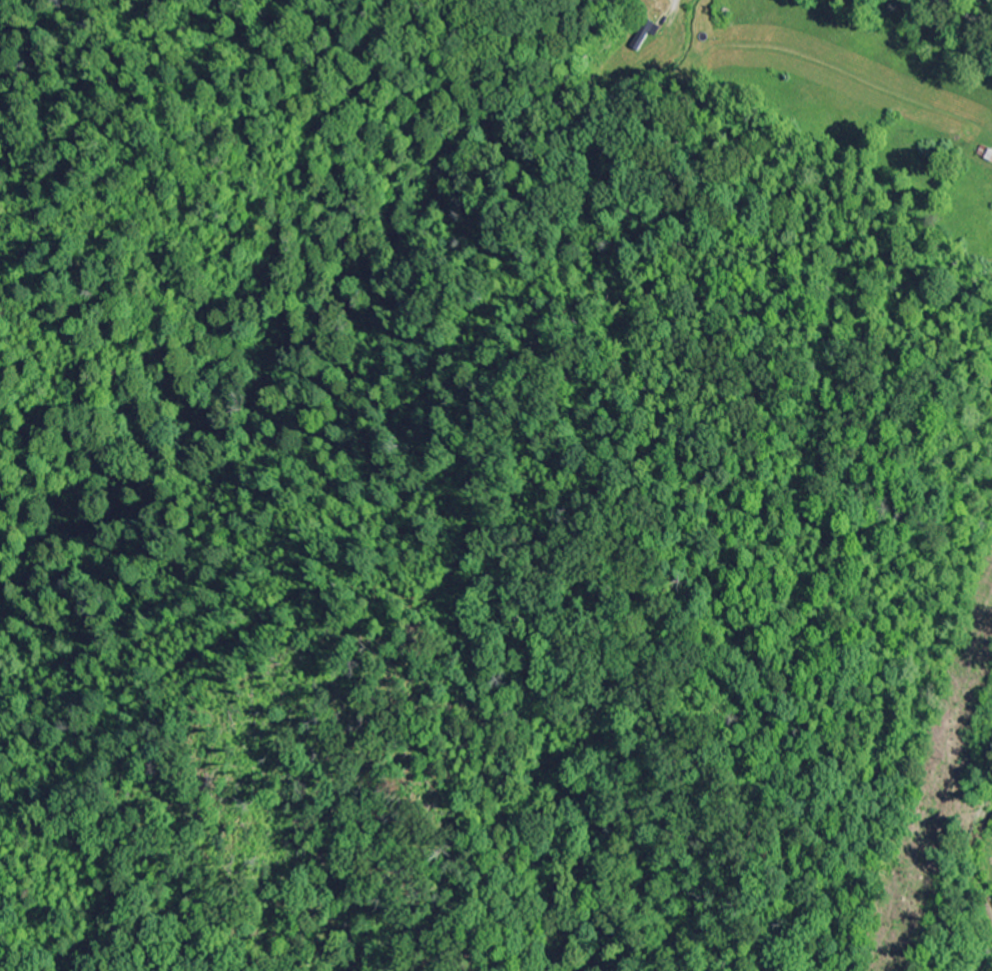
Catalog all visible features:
road: (970, 8)
building: (646, 34)

